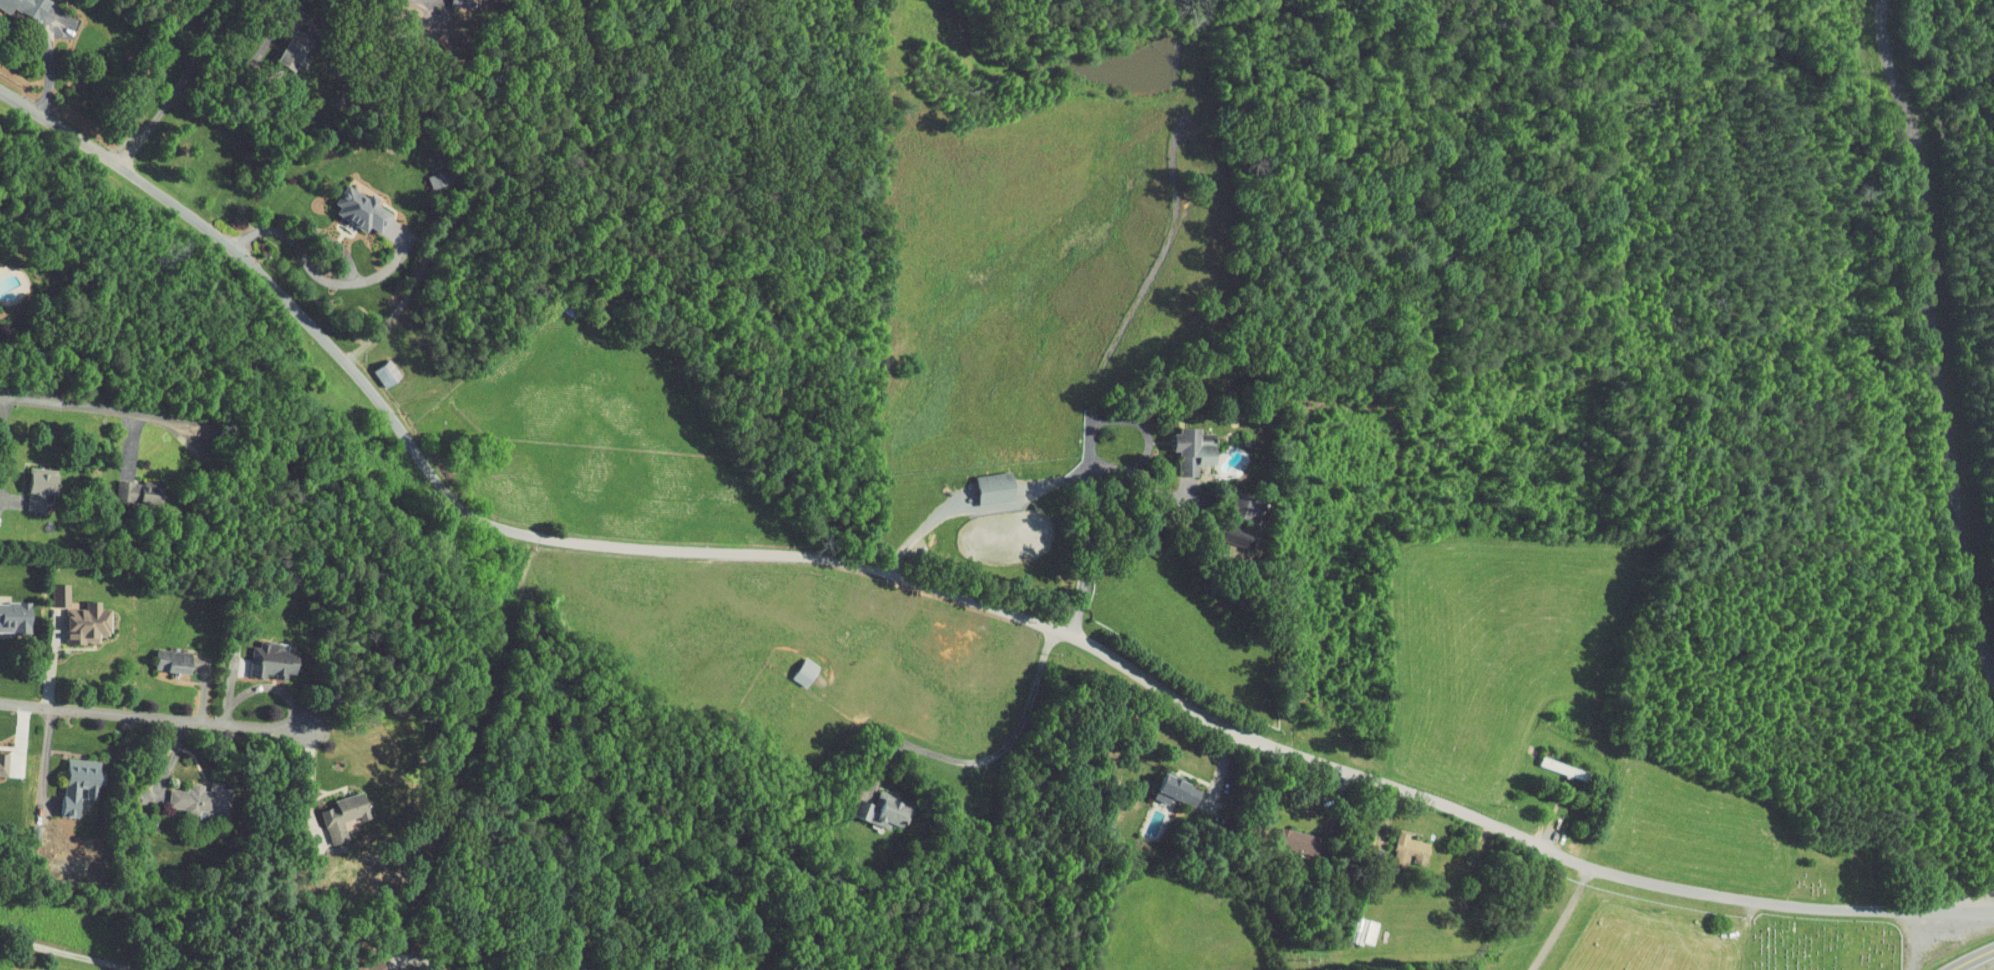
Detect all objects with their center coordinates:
building: (14, 5)
road: (178, 85)
building: (343, 203)
road: (250, 232)
road: (1932, 333)
building: (372, 365)
road: (113, 408)
building: (1172, 445)
building: (23, 473)
building: (977, 480)
building: (121, 484)
road: (1054, 487)
building: (1226, 503)
building: (1222, 529)
building: (48, 588)
road: (940, 590)
building: (7, 610)
building: (70, 615)
building: (255, 653)
building: (156, 654)
building: (790, 664)
road: (163, 718)
road: (1009, 743)
building: (61, 778)
building: (1159, 782)
building: (173, 791)
building: (869, 804)
building: (326, 808)
building: (1283, 834)
building: (1394, 843)
road: (1561, 918)
building: (1351, 925)
road: (72, 952)
road: (1971, 958)
building: (356, 962)

